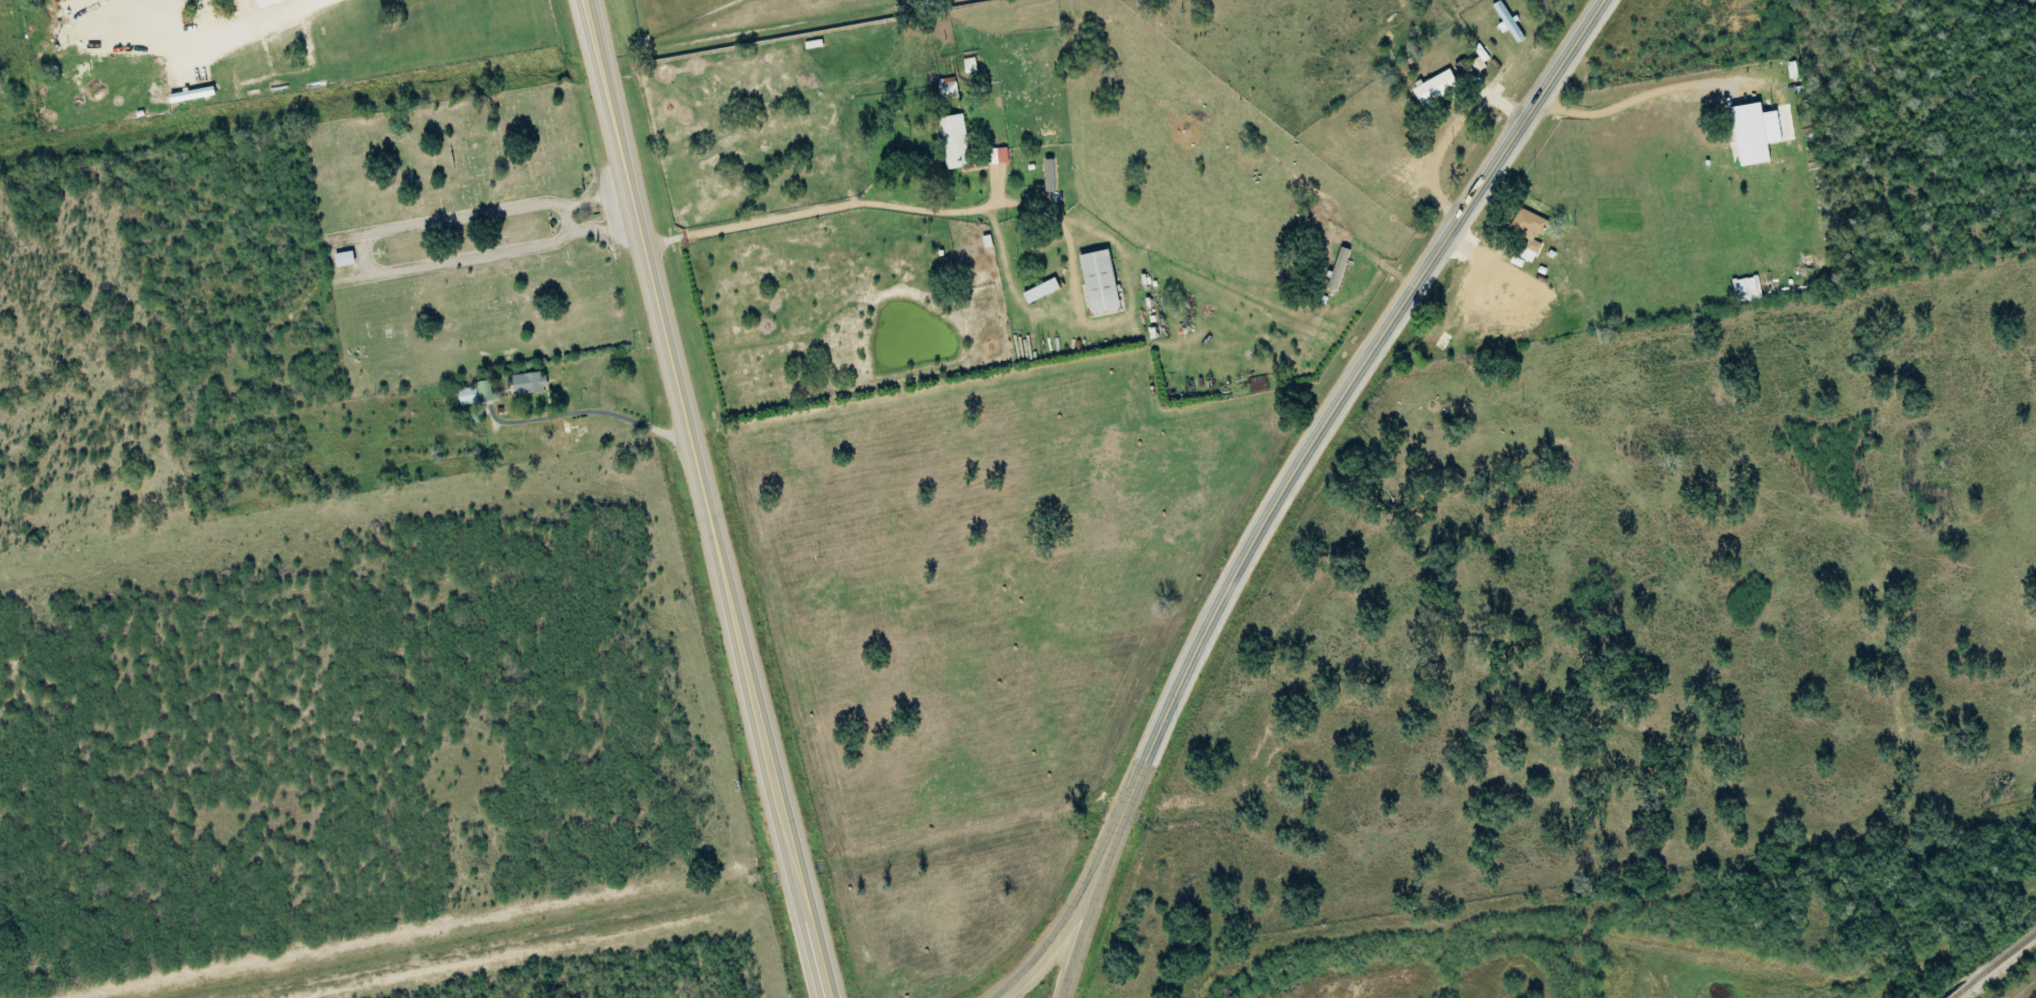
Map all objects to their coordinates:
building: (1510, 23)
building: (1481, 59)
building: (1466, 70)
building: (1794, 70)
building: (1437, 87)
building: (195, 95)
building: (1758, 134)
building: (956, 142)
building: (1000, 157)
building: (1531, 234)
road: (837, 235)
park: (460, 242)
building: (346, 260)
building: (1102, 282)
building: (1754, 289)
building: (1043, 292)
building: (531, 384)
building: (477, 394)
road: (1346, 403)
road: (711, 498)
road: (628, 517)
road: (1094, 914)
road: (1080, 921)
railway: (1992, 964)
road: (2029, 993)

